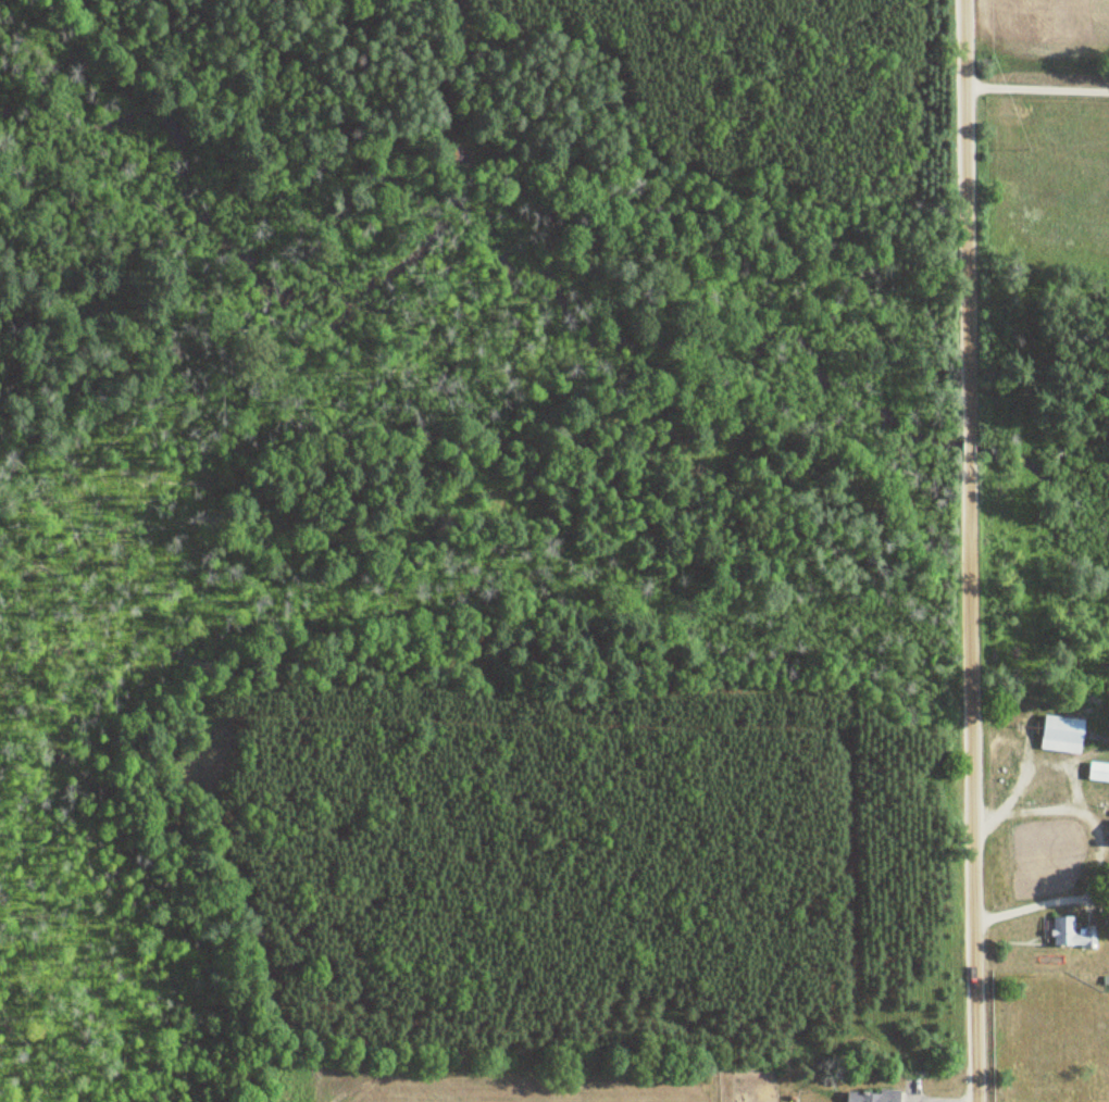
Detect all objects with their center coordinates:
road: (1036, 82)
road: (967, 551)
building: (1066, 730)
building: (1072, 934)
building: (874, 1095)

